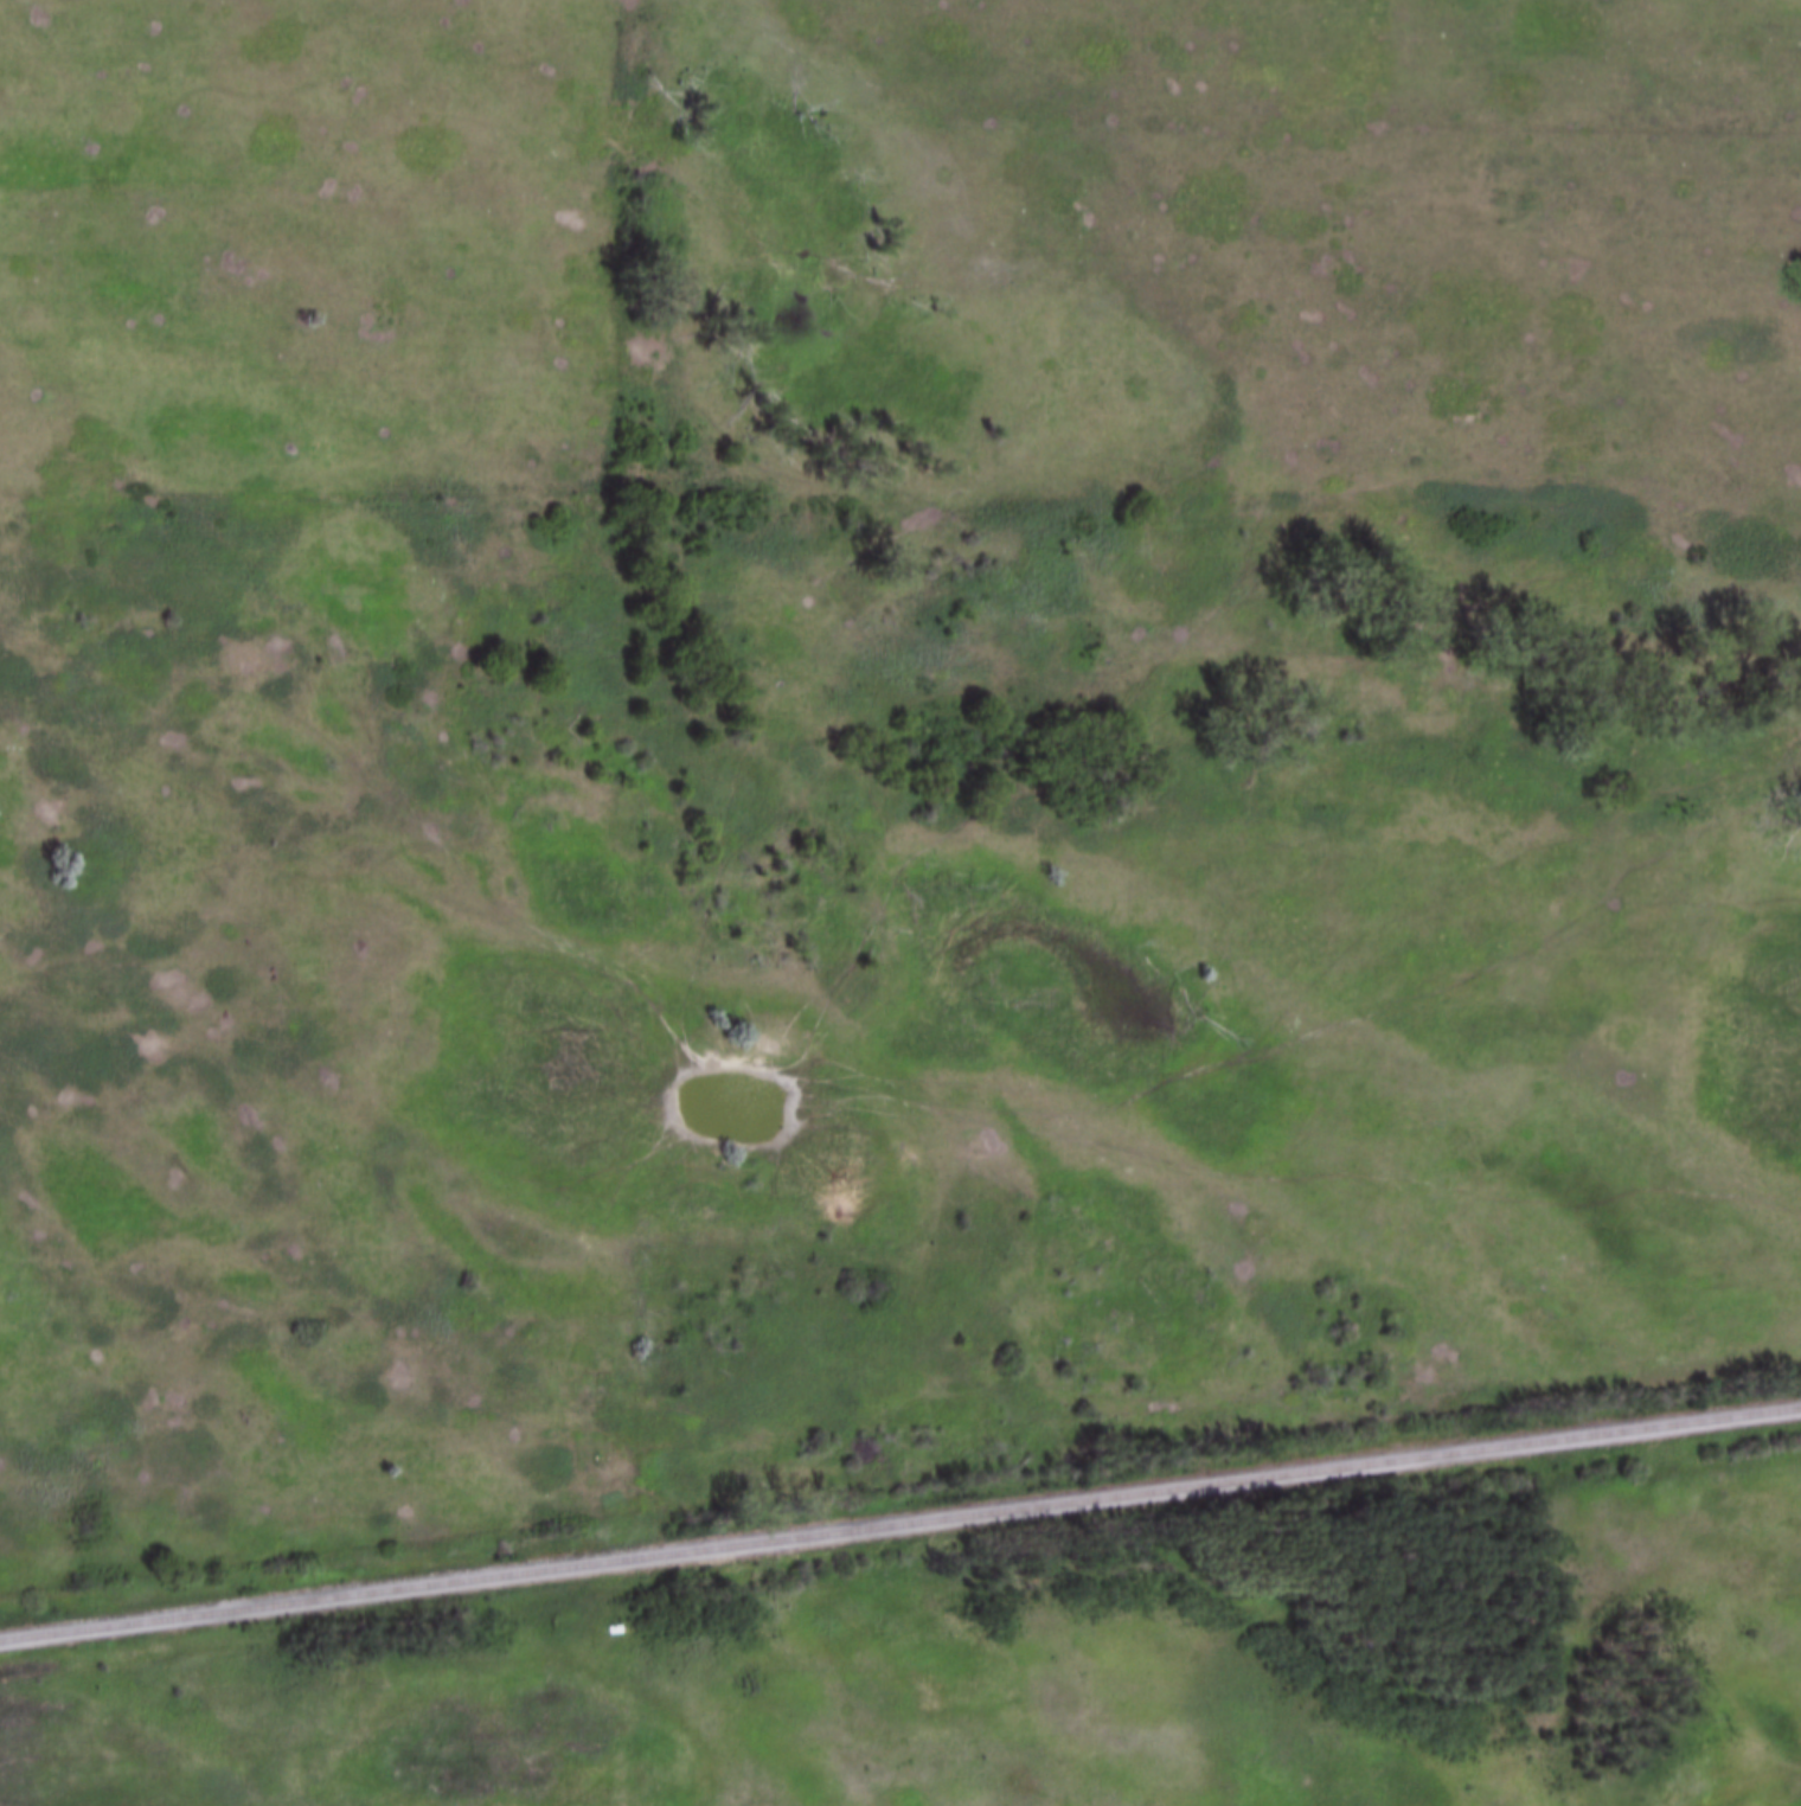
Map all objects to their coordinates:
railway: (901, 1523)

